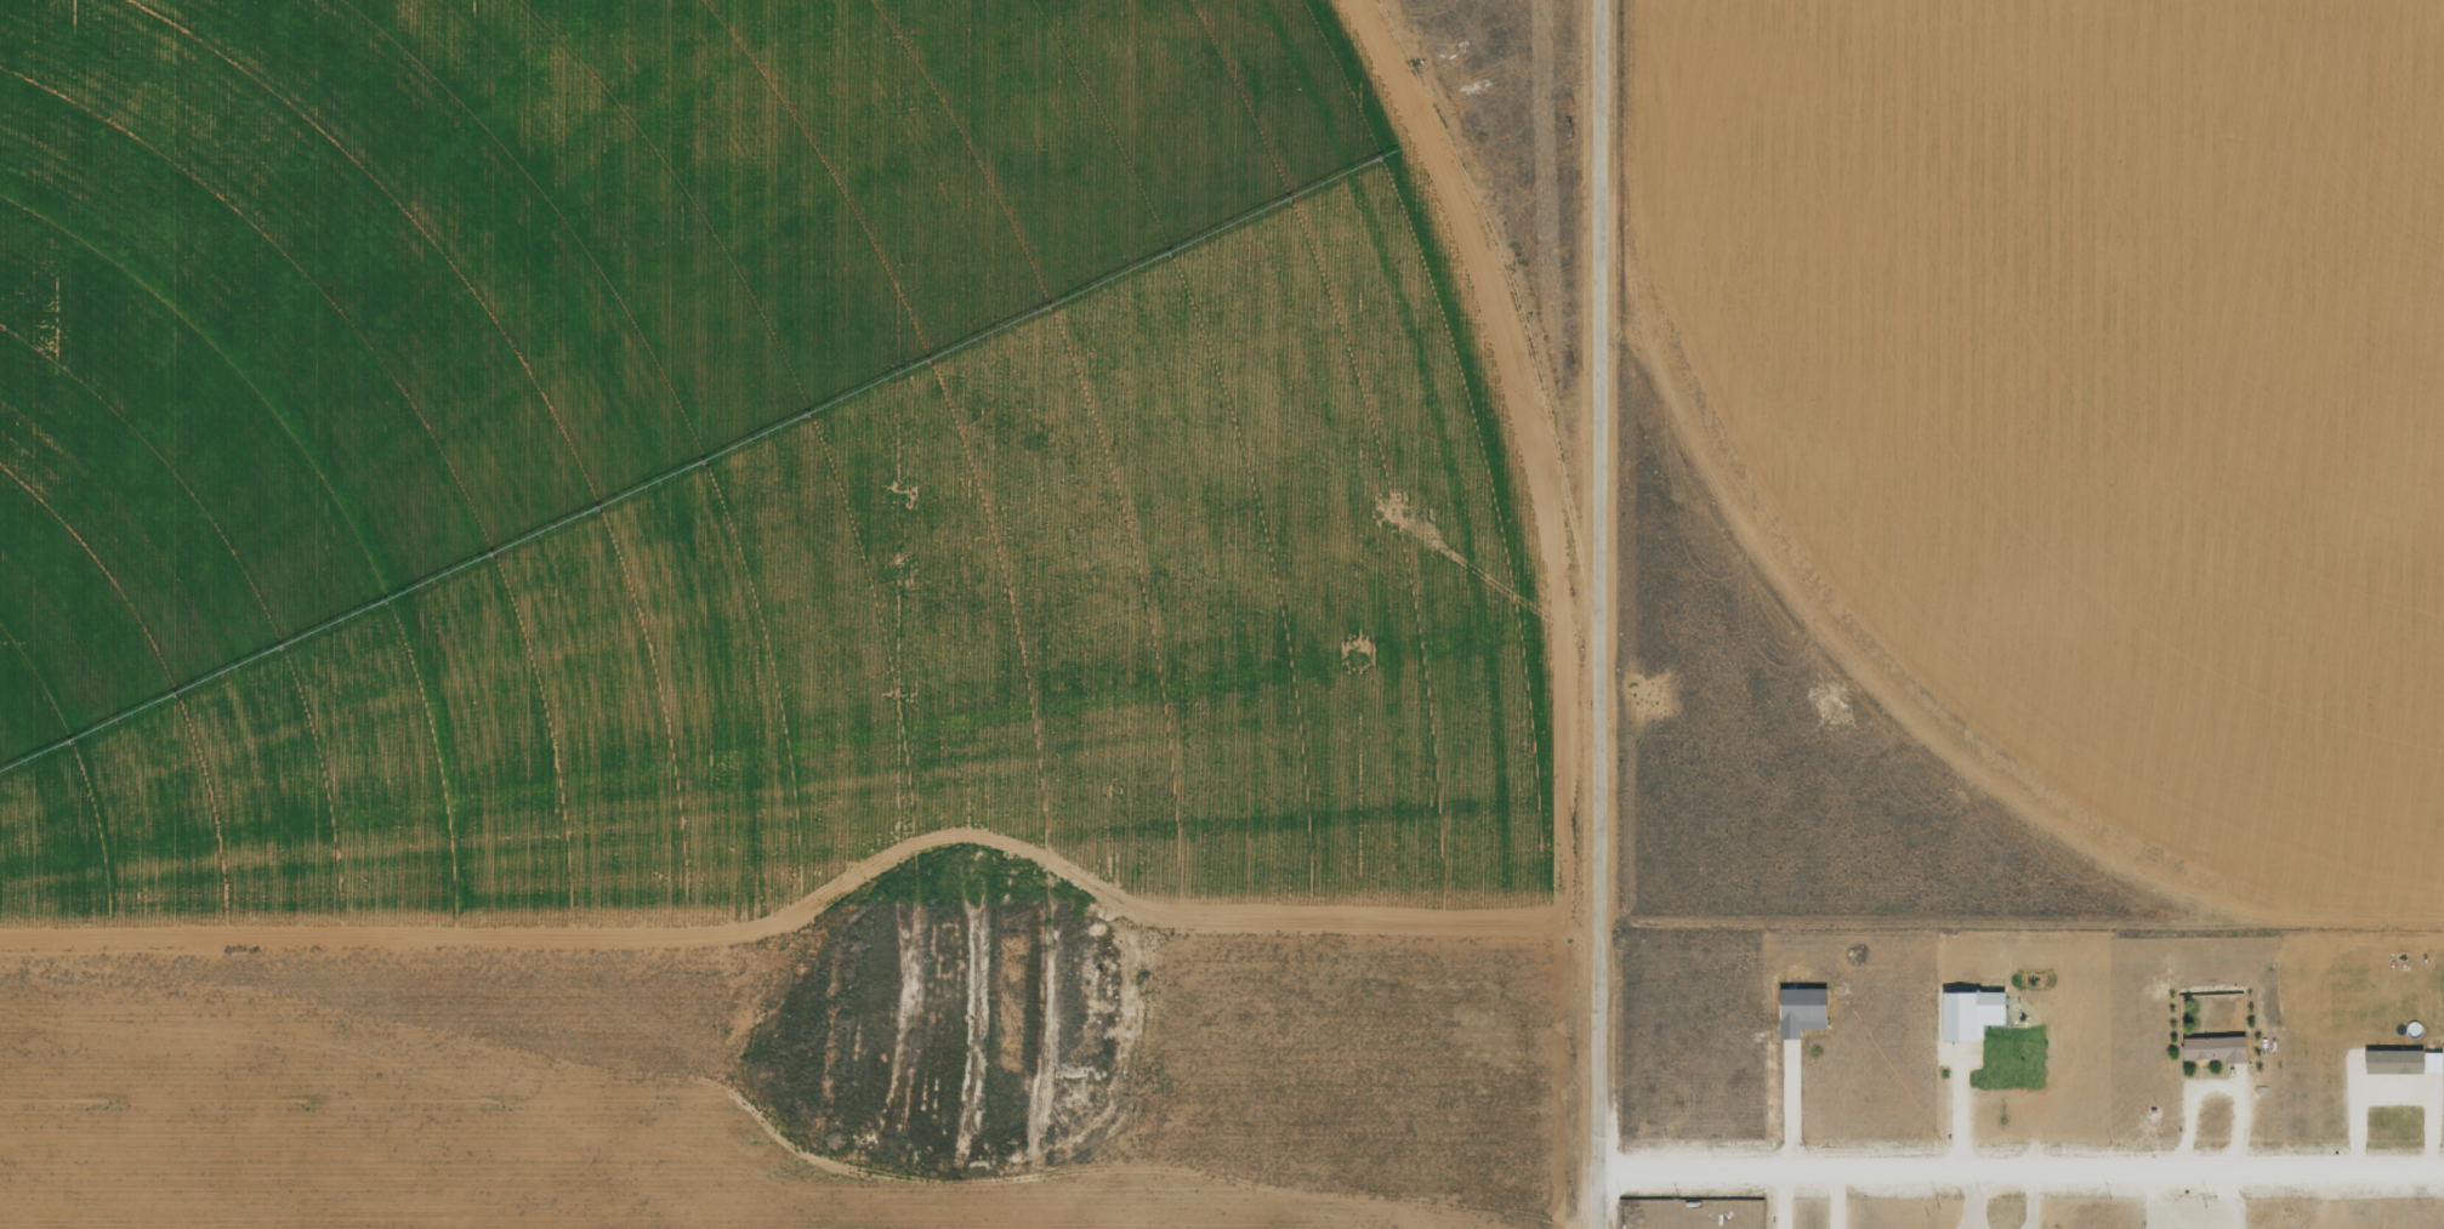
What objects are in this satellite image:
road: (1590, 614)
road: (546, 776)
building: (1796, 1009)
building: (1966, 1013)
building: (2211, 1047)
building: (2389, 1060)
road: (2018, 1174)

